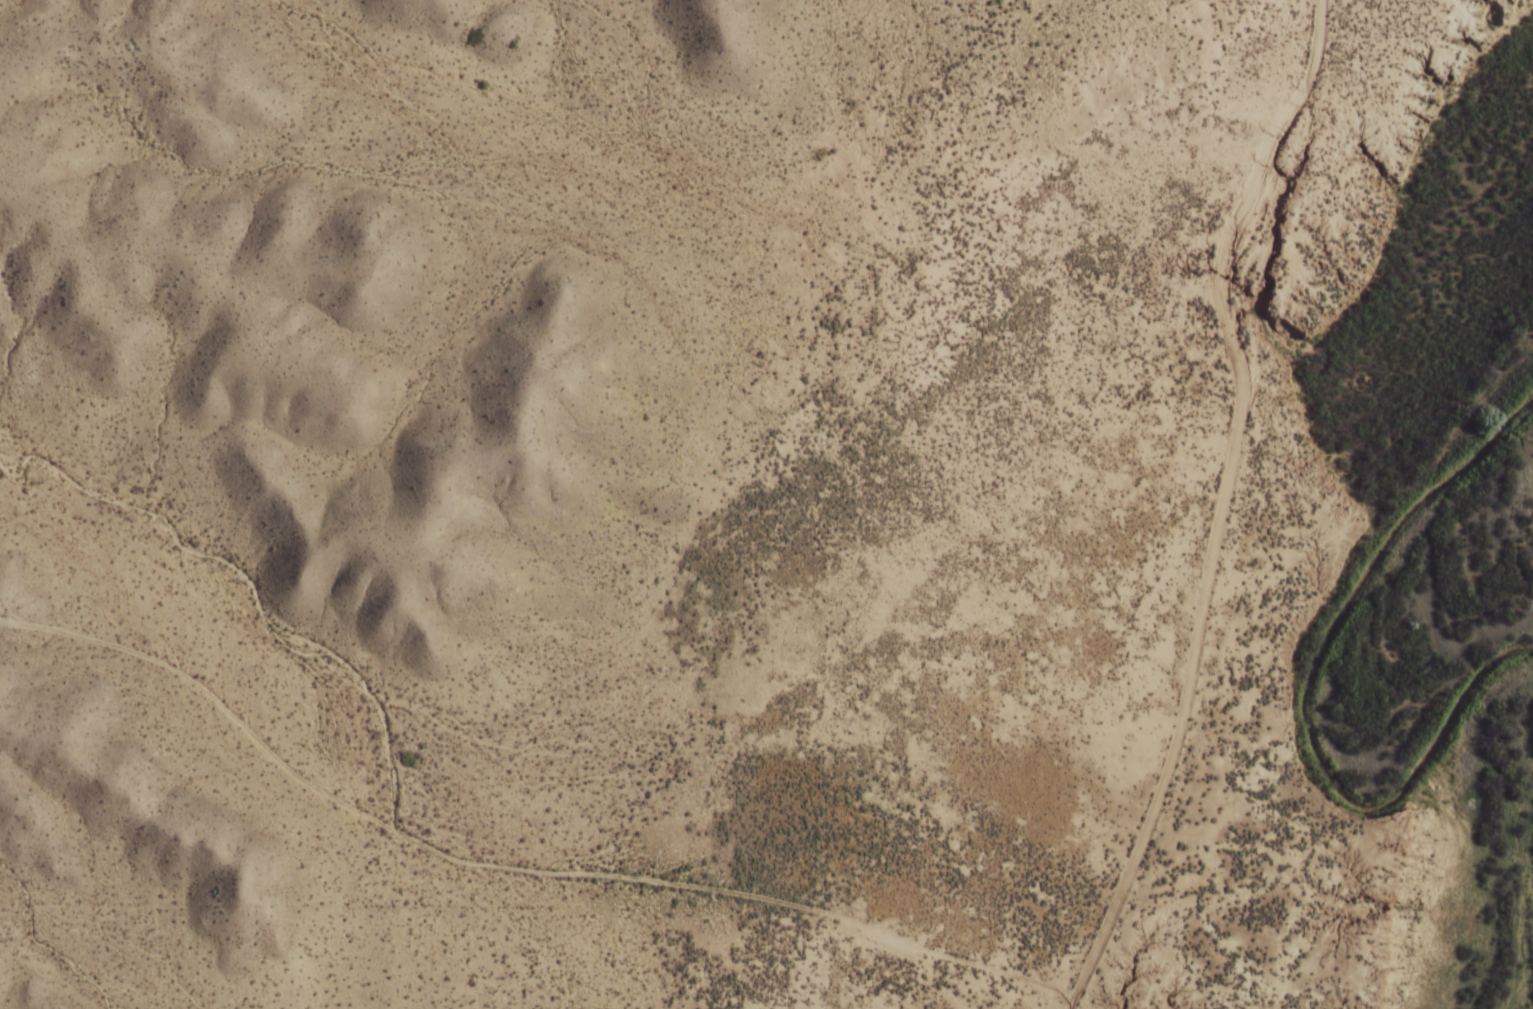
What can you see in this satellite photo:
road: (1220, 503)
river: (1364, 681)
road: (510, 870)

